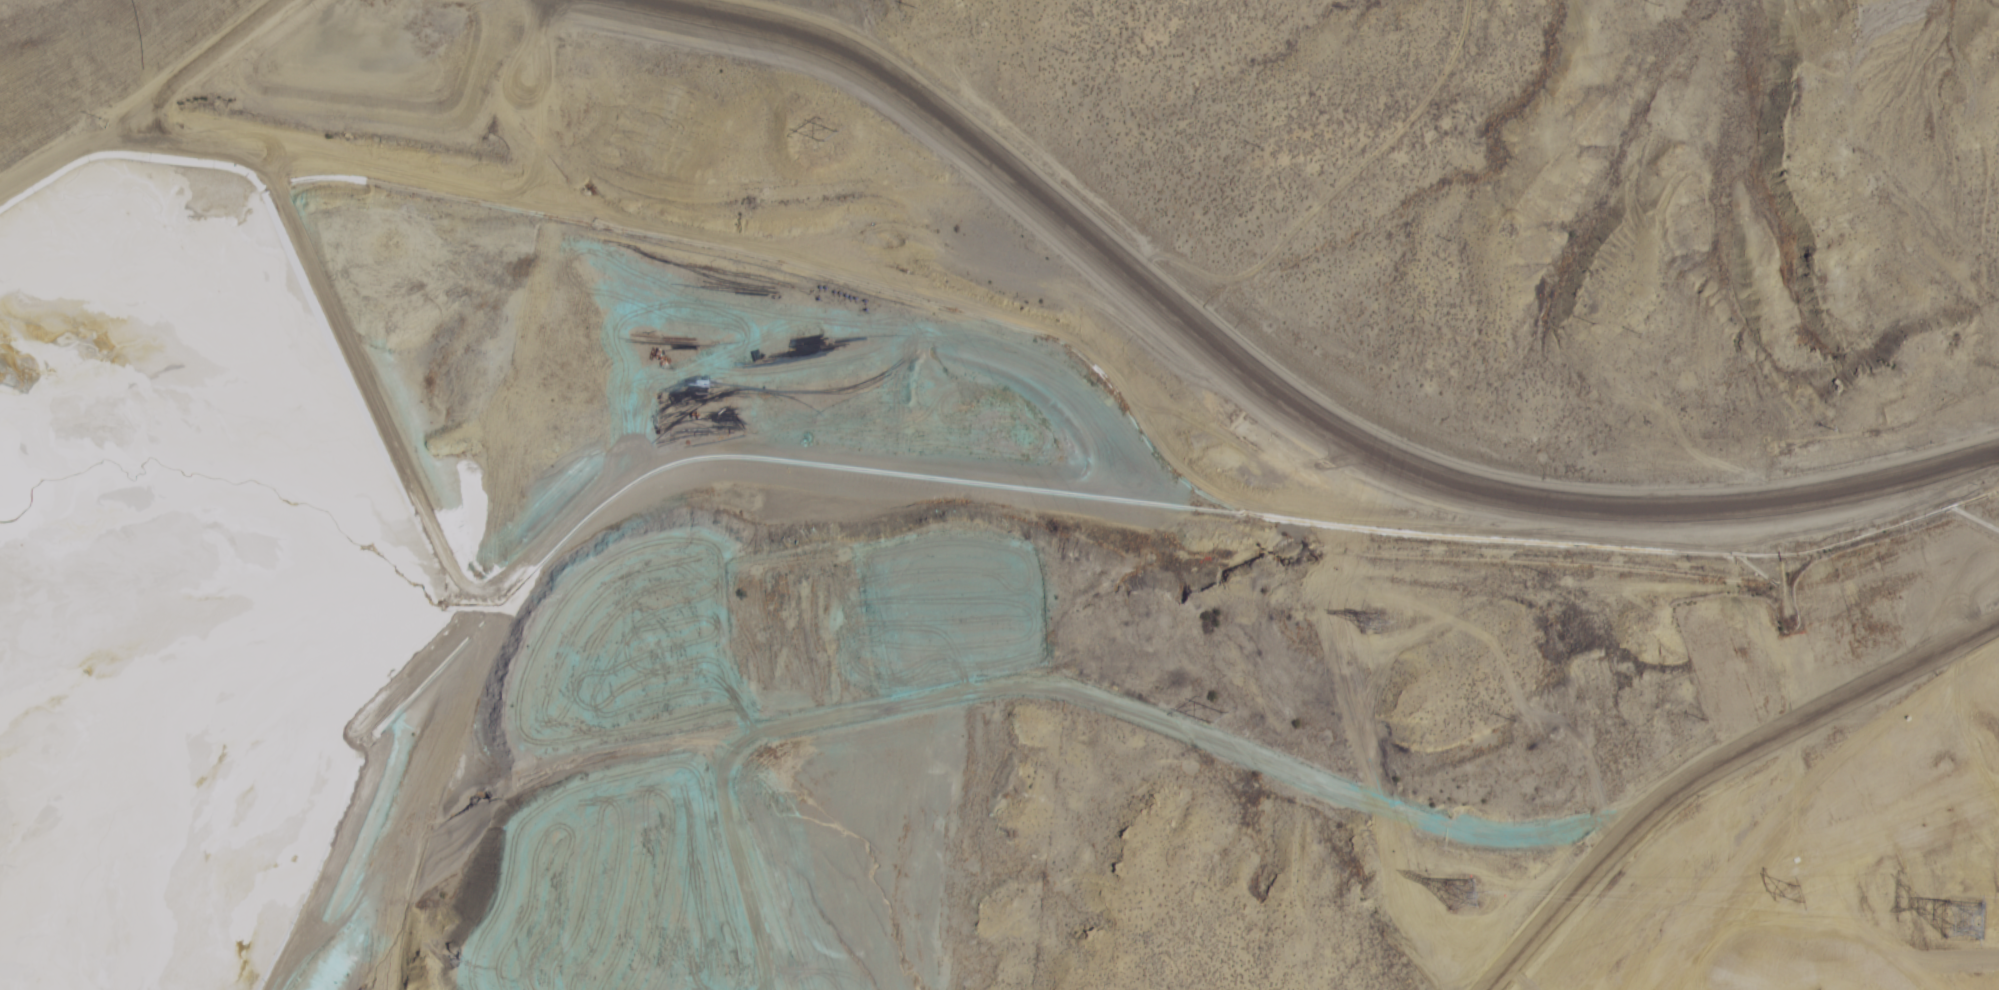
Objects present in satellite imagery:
power tower: (824, 128)
road: (1341, 390)
power tower: (1372, 617)
power tower: (1209, 701)
road: (1714, 771)
power tower: (1460, 886)
power tower: (1794, 887)
power tower: (1964, 913)

